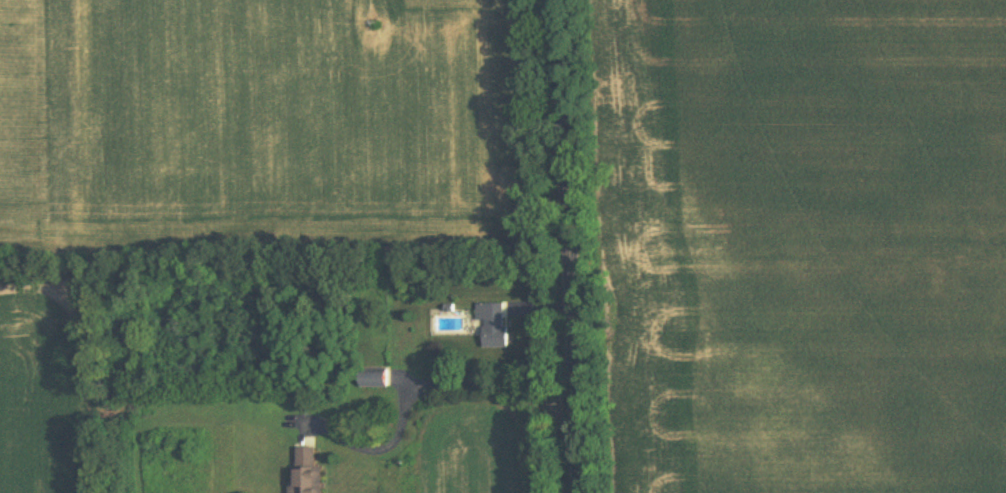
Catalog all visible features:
road: (570, 246)
building: (492, 326)
building: (372, 379)
building: (304, 472)

